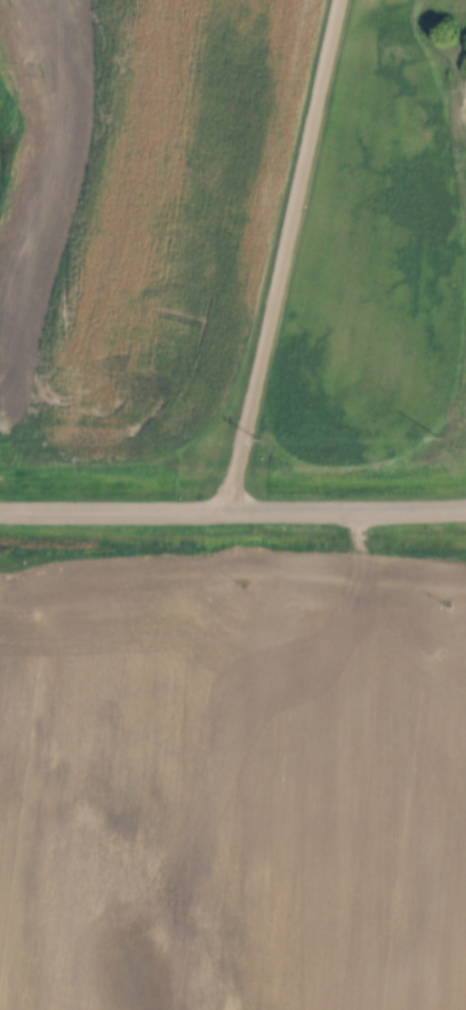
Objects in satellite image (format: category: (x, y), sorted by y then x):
road: (287, 255)
road: (233, 512)

